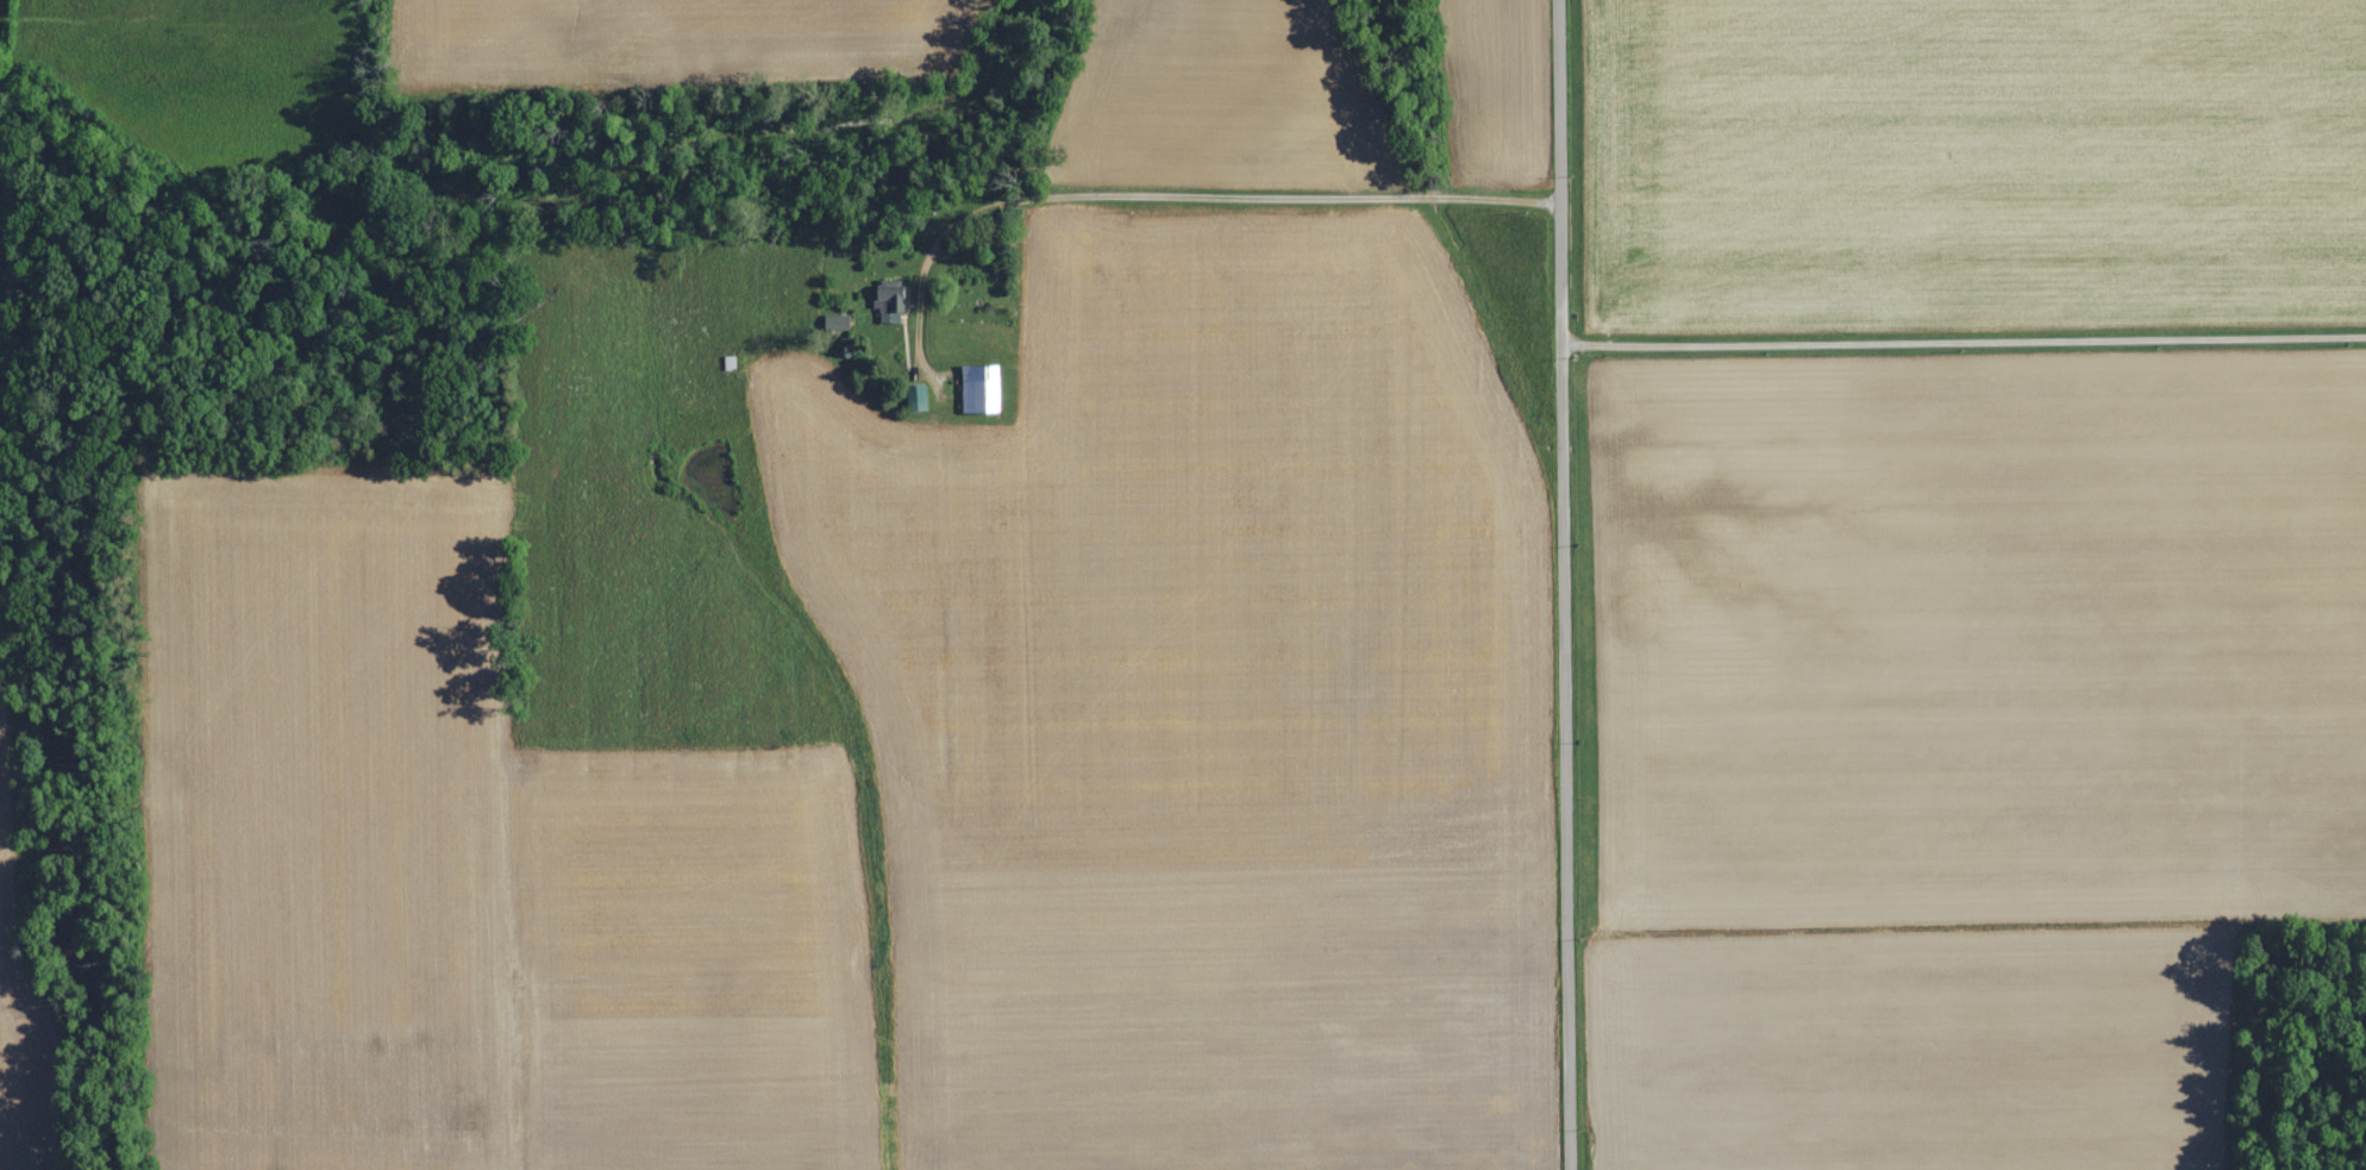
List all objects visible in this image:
road: (1173, 192)
building: (888, 298)
building: (834, 319)
road: (1964, 337)
building: (978, 386)
building: (915, 395)
road: (1564, 584)

